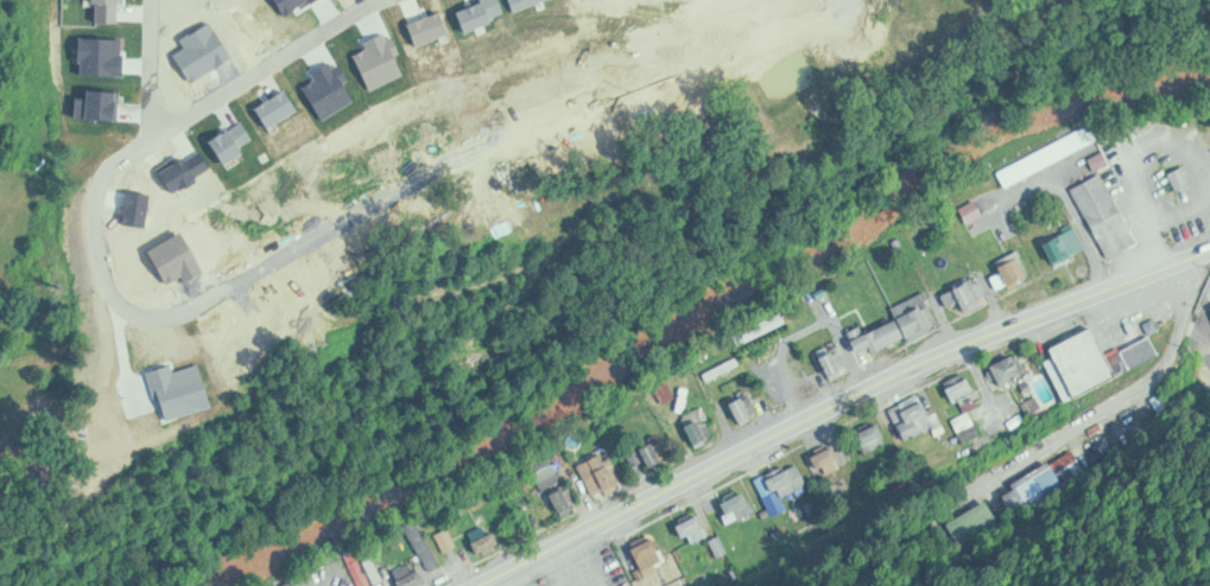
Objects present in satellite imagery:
building: (517, 2)
building: (287, 5)
building: (501, 5)
building: (711, 7)
building: (87, 11)
building: (473, 11)
building: (855, 24)
building: (399, 26)
building: (362, 27)
building: (425, 27)
building: (327, 32)
building: (292, 40)
building: (197, 47)
building: (171, 55)
building: (96, 56)
building: (133, 58)
building: (379, 58)
road: (265, 64)
building: (325, 89)
building: (222, 98)
building: (94, 102)
building: (419, 106)
building: (272, 107)
building: (341, 121)
building: (152, 127)
building: (236, 149)
building: (1051, 155)
building: (178, 171)
building: (1204, 174)
building: (1183, 178)
building: (133, 210)
building: (446, 210)
building: (1107, 215)
building: (1066, 246)
building: (170, 257)
building: (1014, 270)
road: (1195, 288)
building: (967, 293)
river: (704, 317)
building: (902, 326)
building: (1140, 352)
building: (836, 361)
building: (1083, 364)
building: (724, 369)
building: (1011, 369)
building: (176, 389)
building: (963, 389)
road: (842, 406)
building: (748, 408)
building: (913, 416)
building: (965, 421)
building: (875, 437)
building: (655, 452)
building: (828, 459)
building: (602, 473)
building: (550, 476)
building: (786, 486)
building: (568, 499)
building: (741, 505)
building: (974, 524)
building: (693, 529)
road: (1132, 535)
building: (449, 540)
building: (489, 542)
building: (425, 546)
building: (652, 555)
building: (367, 569)
building: (410, 574)
building: (607, 574)
road: (1198, 580)

